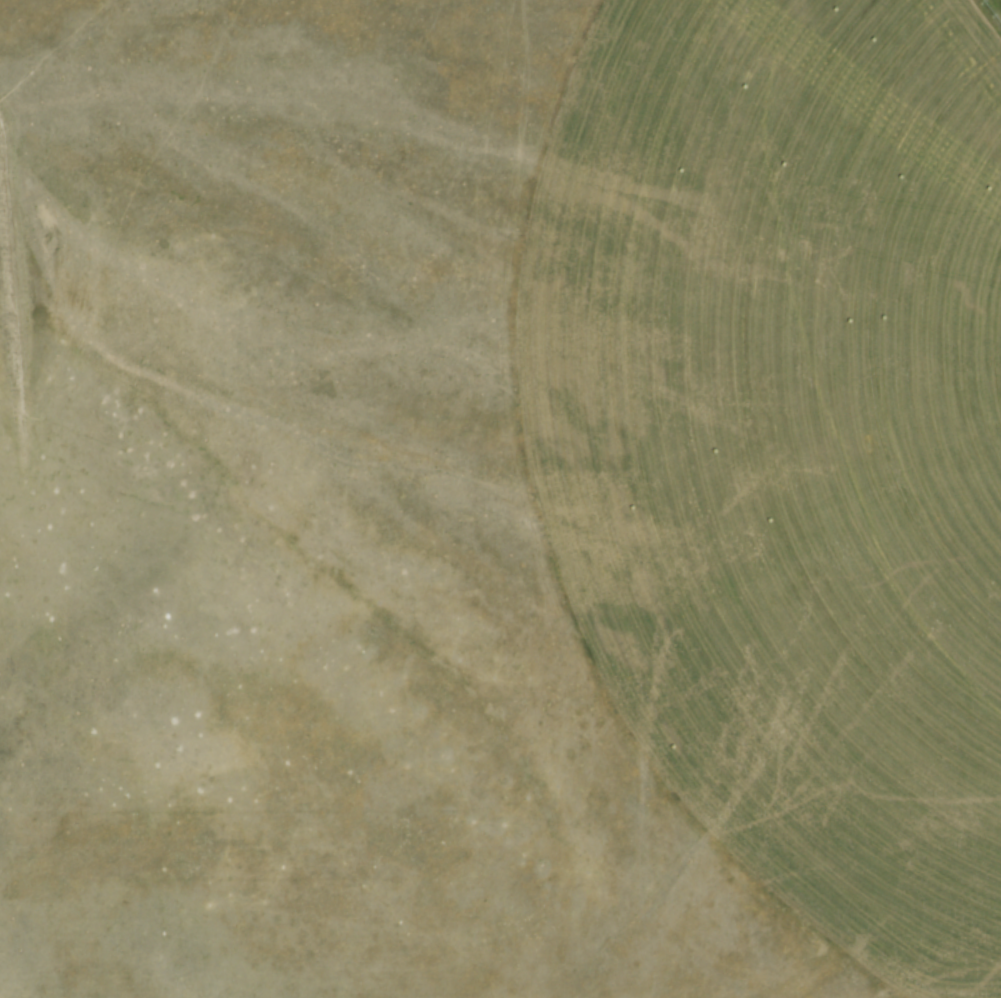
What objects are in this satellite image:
crop: (788, 442)

